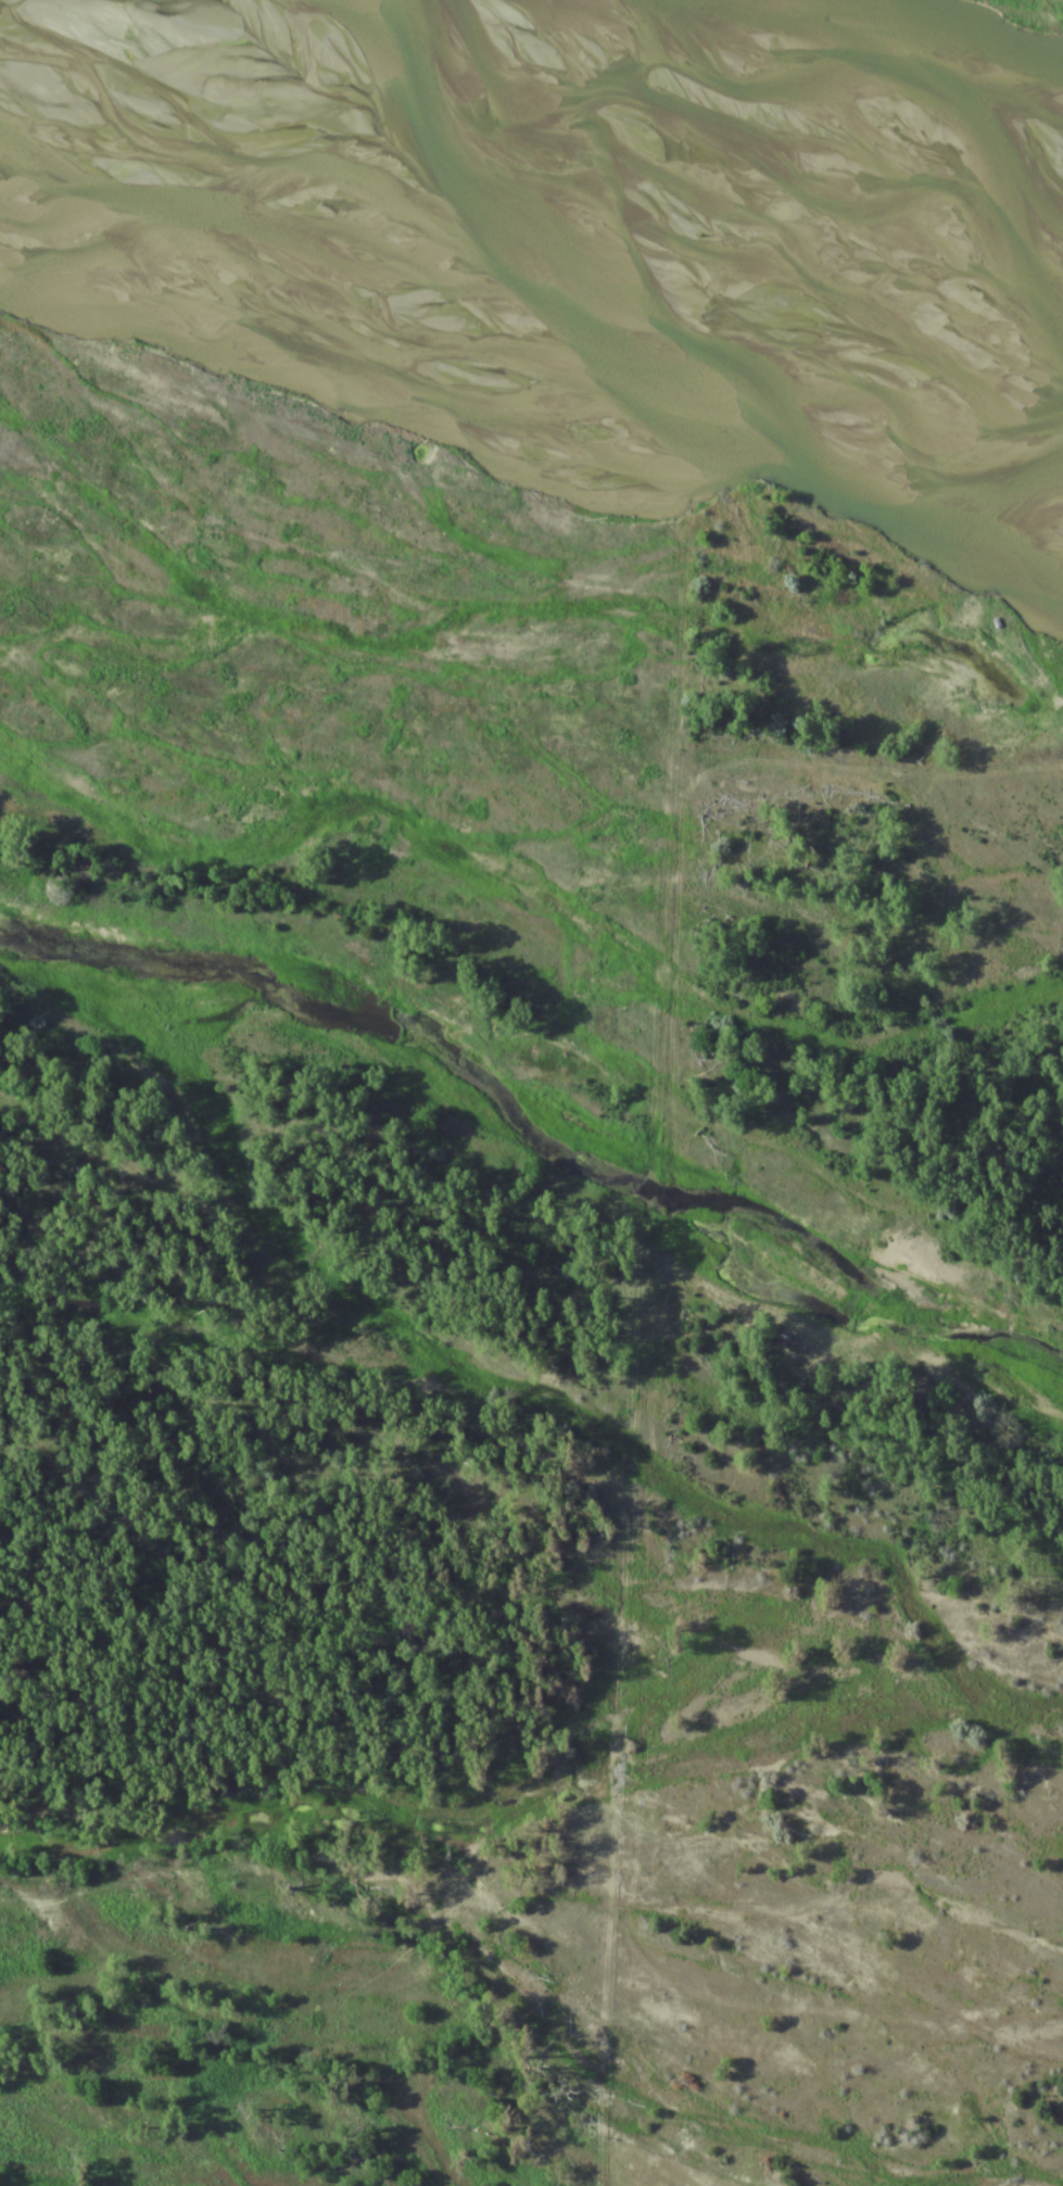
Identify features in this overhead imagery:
river: (531, 241)

